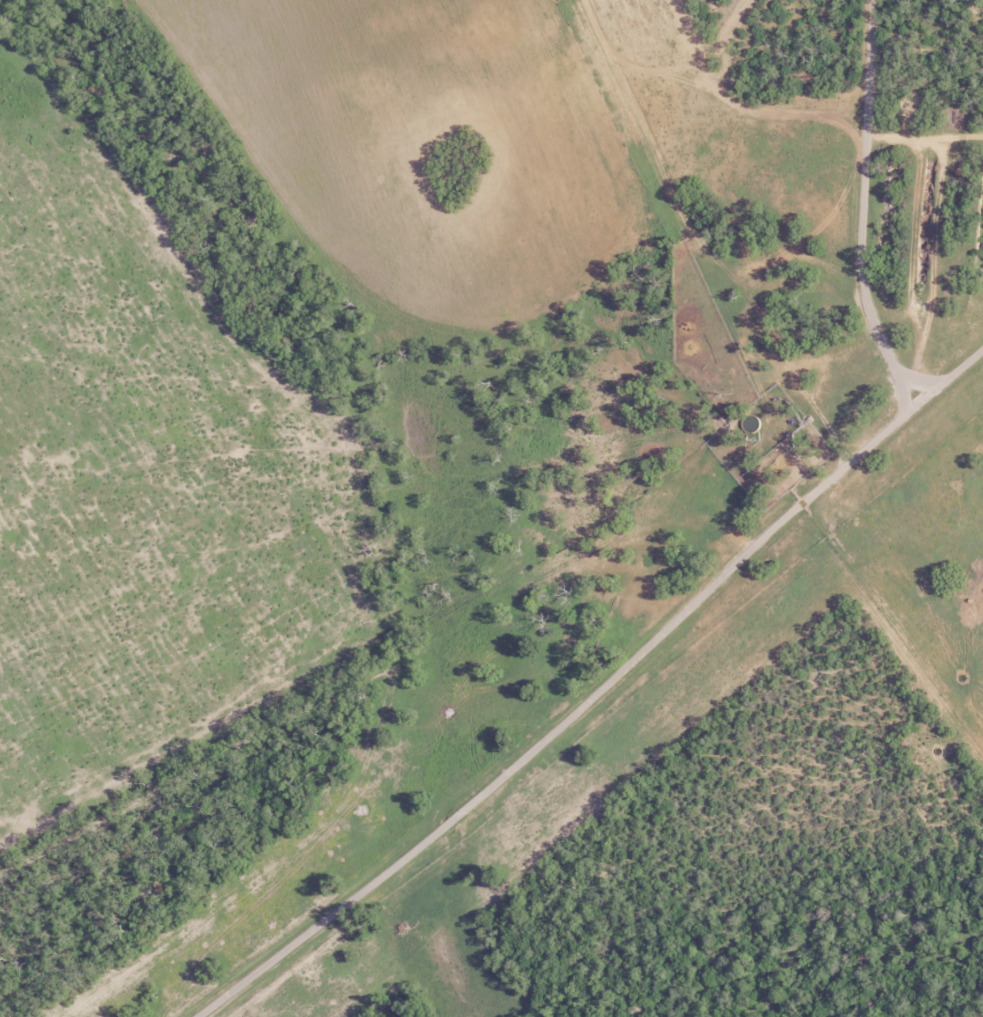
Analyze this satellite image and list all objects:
road: (747, 173)
road: (546, 597)
road: (627, 695)

